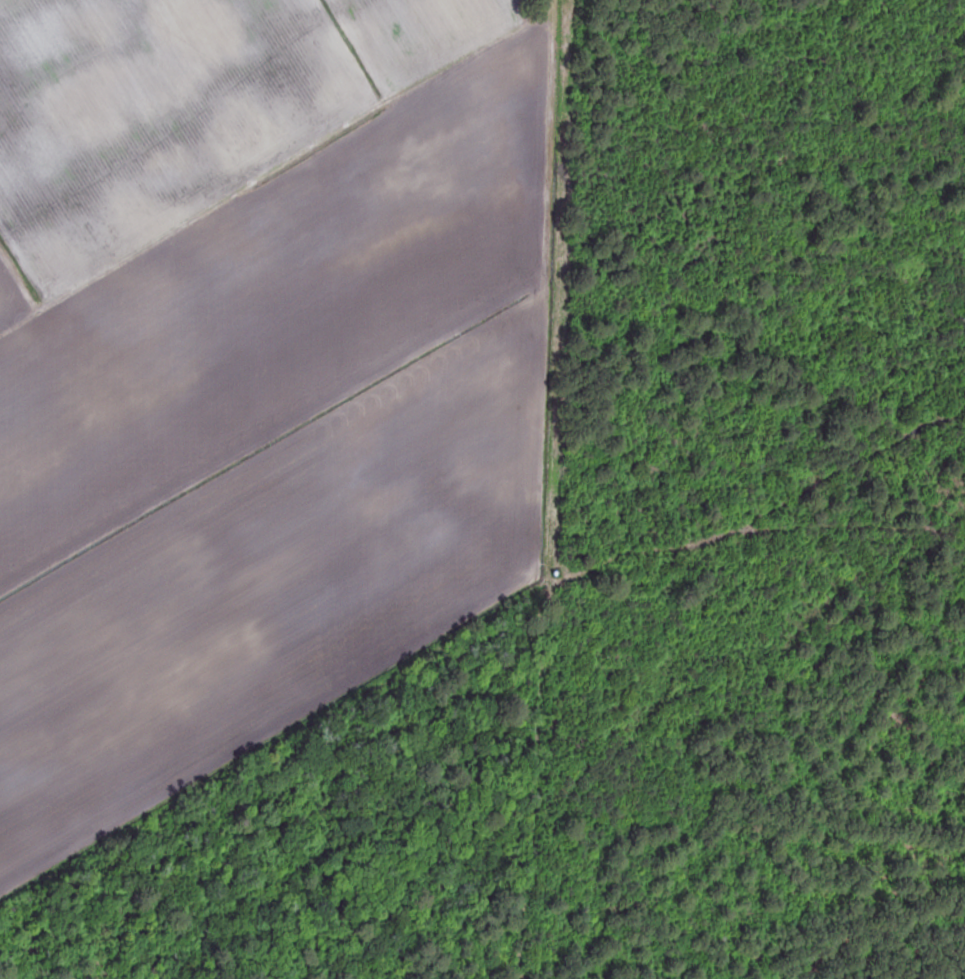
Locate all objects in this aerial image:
road: (549, 279)

